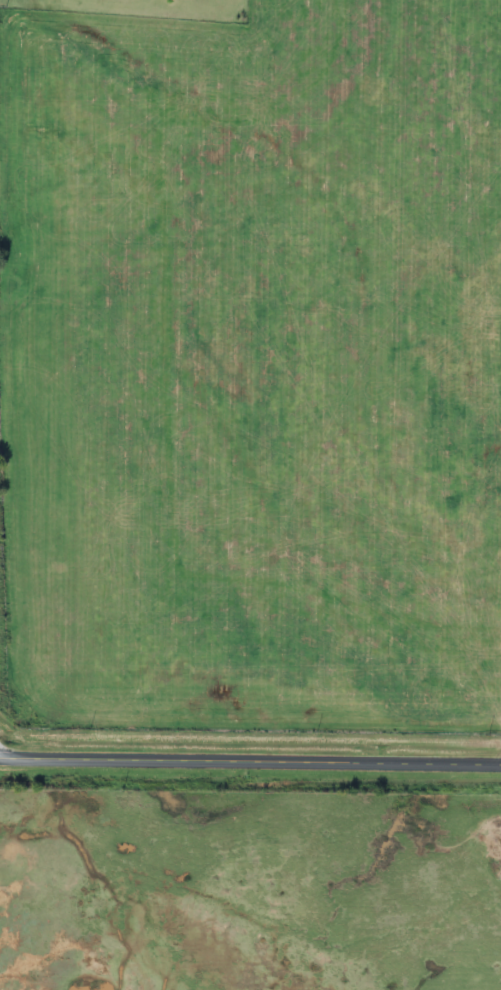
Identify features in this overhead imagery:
road: (250, 759)

